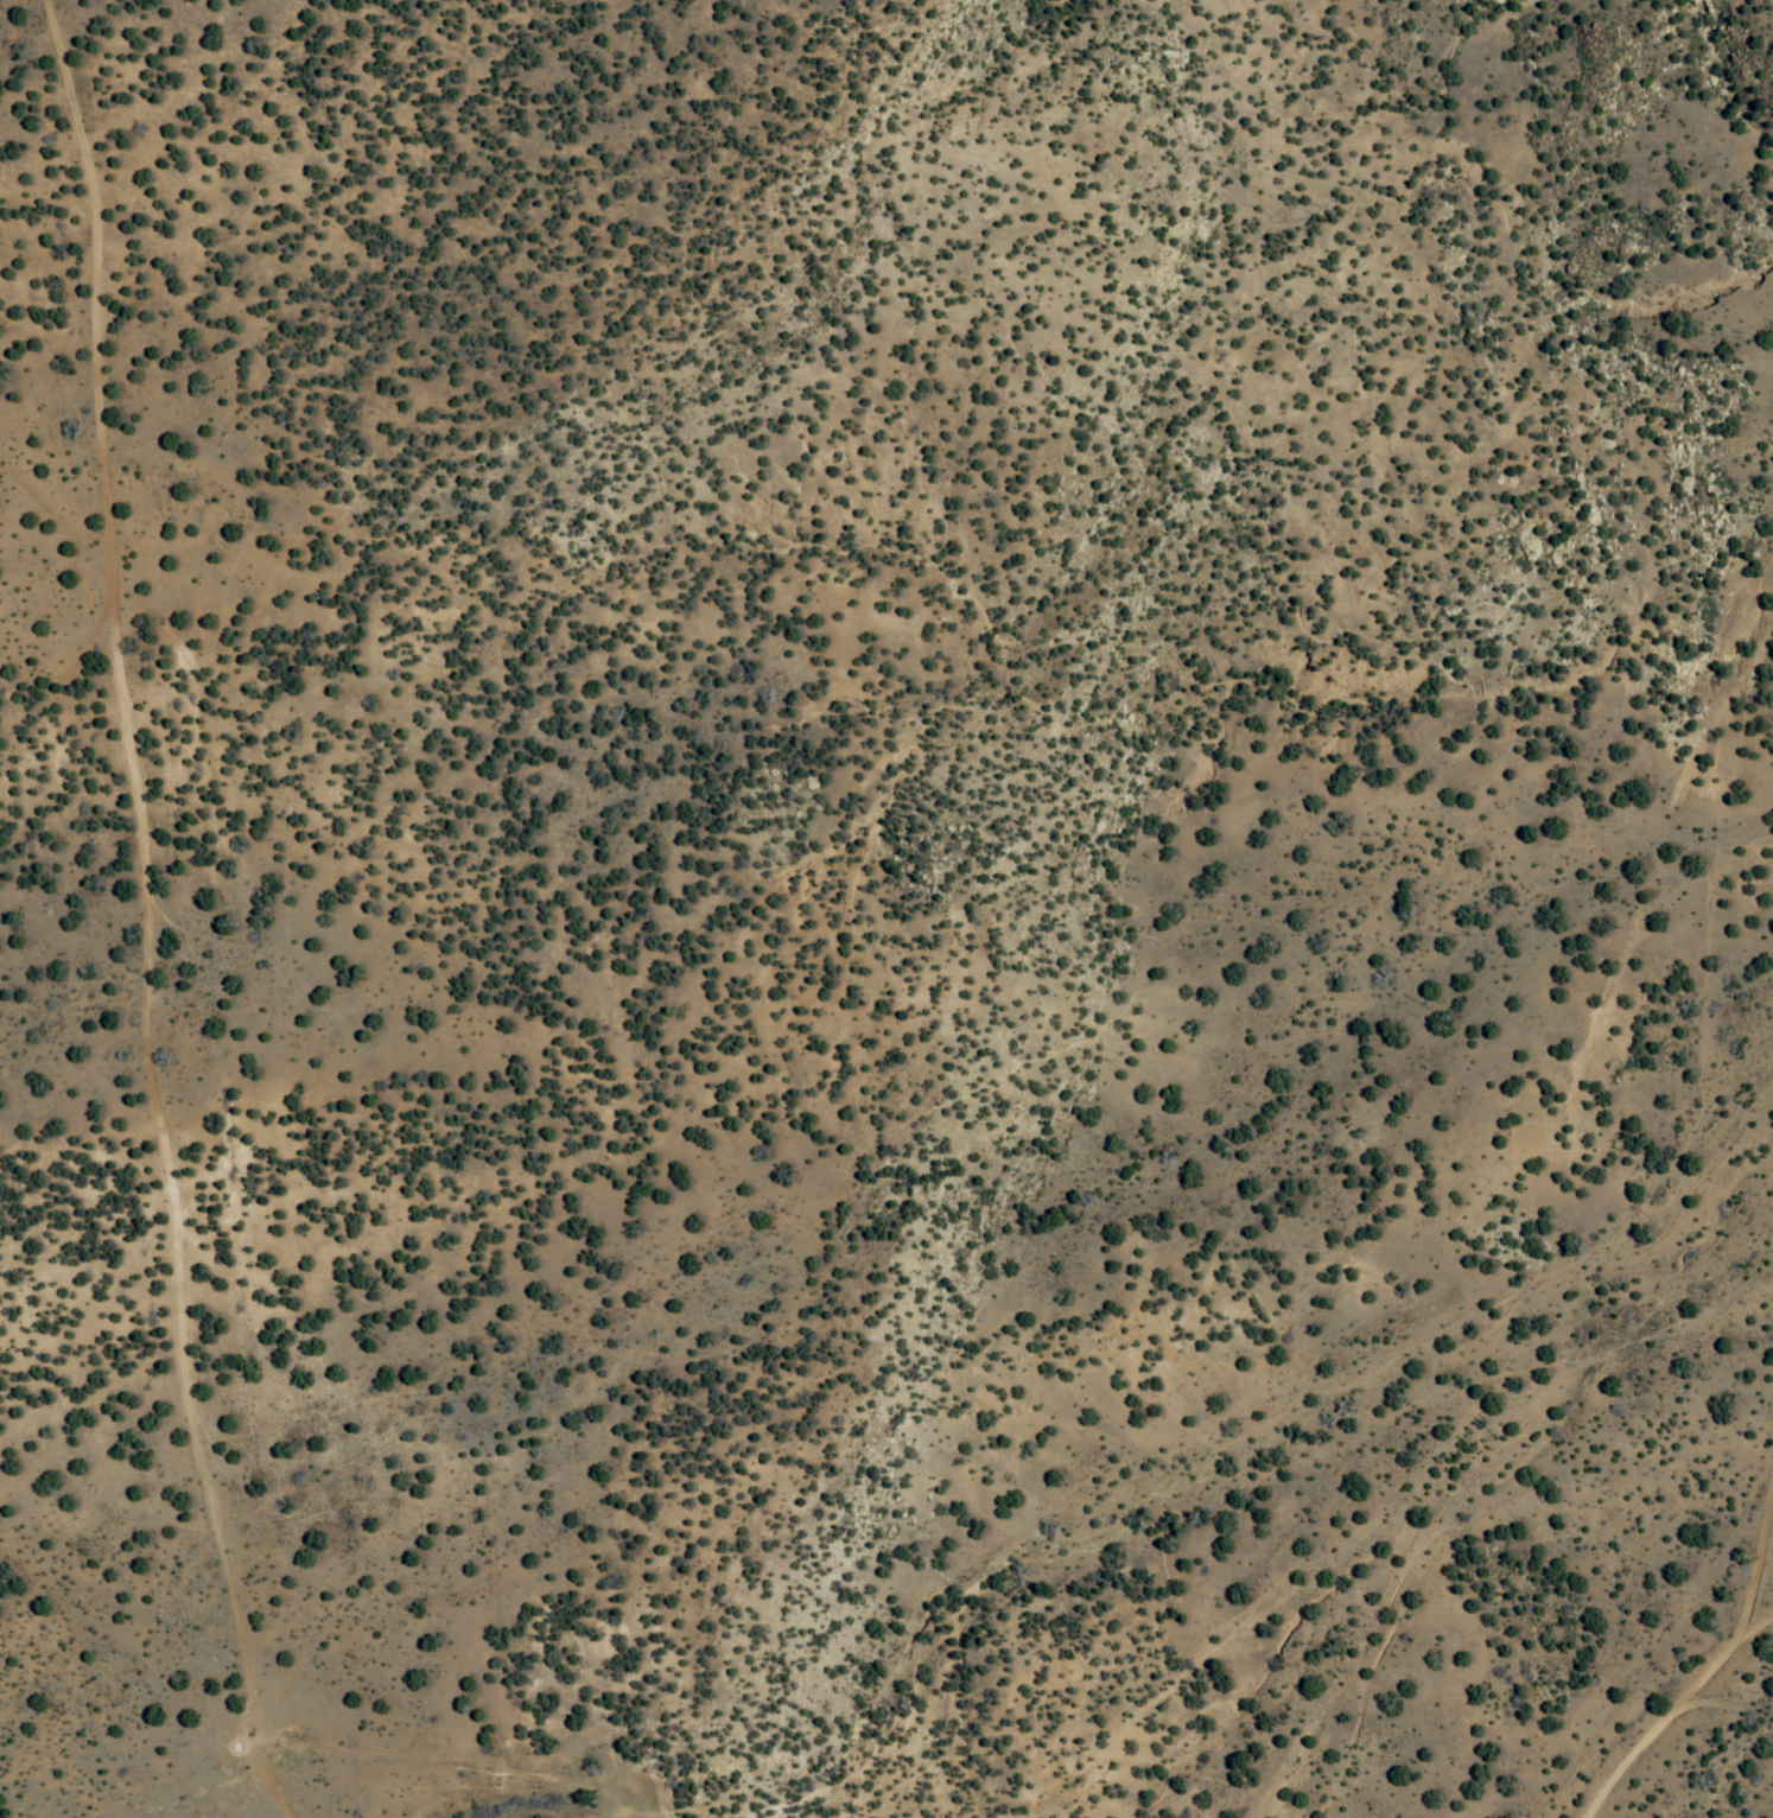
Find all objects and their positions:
road: (1696, 1705)

